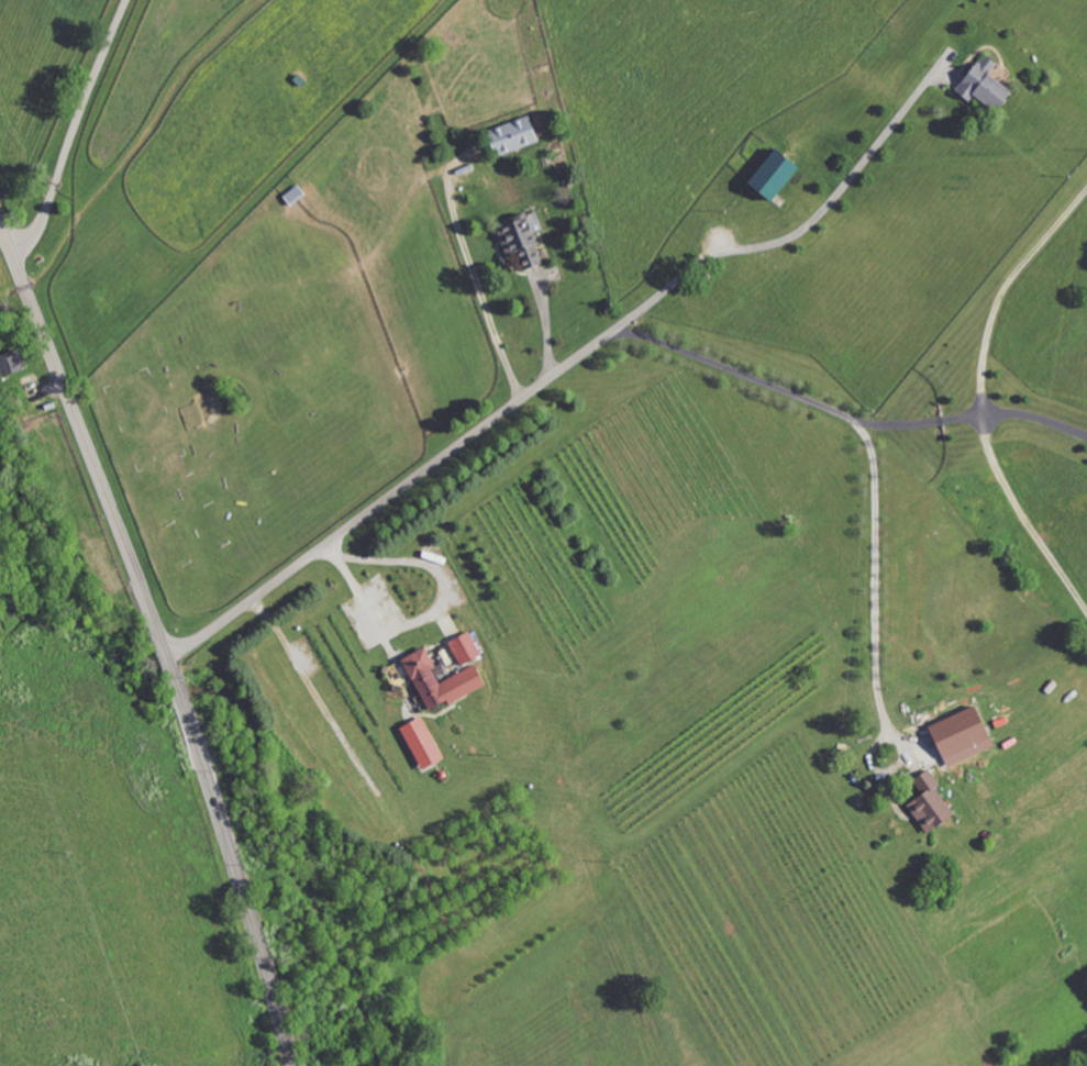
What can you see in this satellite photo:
building: (989, 86)
road: (73, 131)
building: (518, 134)
building: (783, 173)
building: (296, 193)
building: (525, 244)
road: (477, 282)
road: (1002, 289)
road: (544, 327)
road: (539, 385)
road: (845, 417)
road: (875, 588)
road: (436, 612)
road: (159, 637)
building: (467, 648)
building: (469, 676)
building: (425, 743)
building: (934, 806)

